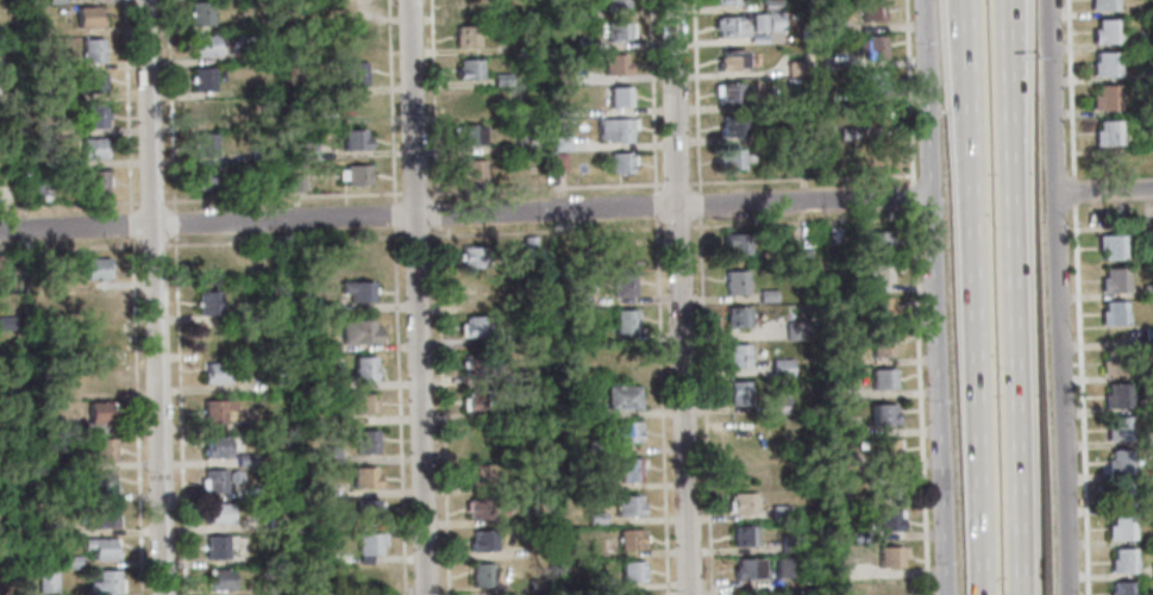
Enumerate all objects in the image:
building: (726, 1)
building: (616, 5)
building: (771, 5)
building: (1103, 5)
building: (466, 6)
building: (353, 8)
building: (871, 10)
building: (585, 12)
building: (201, 13)
building: (522, 14)
building: (90, 17)
building: (767, 21)
building: (731, 27)
building: (833, 27)
building: (619, 30)
road: (1004, 30)
road: (1007, 30)
building: (1104, 32)
building: (803, 33)
building: (466, 36)
building: (355, 39)
building: (585, 43)
building: (205, 45)
building: (872, 46)
building: (94, 49)
building: (732, 61)
building: (615, 64)
building: (1104, 65)
building: (796, 69)
building: (469, 70)
building: (355, 74)
building: (559, 76)
building: (203, 80)
building: (501, 80)
building: (93, 81)
building: (871, 81)
road: (1071, 87)
road: (696, 92)
road: (909, 92)
building: (728, 93)
road: (652, 96)
building: (620, 98)
building: (1104, 98)
road: (434, 100)
road: (390, 101)
building: (469, 102)
building: (795, 102)
road: (170, 106)
building: (208, 111)
building: (562, 111)
building: (96, 115)
building: (873, 117)
building: (244, 124)
building: (733, 126)
building: (616, 130)
building: (1107, 132)
building: (847, 133)
building: (790, 134)
building: (468, 136)
building: (355, 140)
building: (526, 143)
building: (562, 143)
building: (205, 145)
building: (94, 146)
building: (306, 151)
road: (1113, 151)
building: (261, 155)
building: (735, 159)
building: (559, 162)
building: (621, 163)
building: (803, 165)
building: (471, 171)
building: (357, 175)
road: (801, 177)
building: (208, 178)
building: (98, 181)
building: (296, 182)
road: (677, 183)
road: (695, 183)
road: (545, 188)
road: (1074, 190)
building: (37, 193)
road: (414, 193)
road: (1103, 193)
road: (282, 196)
road: (913, 198)
road: (157, 202)
road: (700, 205)
road: (656, 206)
road: (464, 214)
road: (394, 215)
road: (437, 215)
road: (174, 224)
road: (700, 226)
road: (1115, 226)
road: (678, 227)
road: (631, 228)
road: (131, 232)
road: (478, 234)
building: (833, 236)
road: (415, 237)
road: (377, 238)
building: (876, 240)
building: (1147, 240)
road: (207, 244)
building: (738, 244)
road: (153, 245)
building: (529, 245)
road: (111, 246)
building: (1110, 246)
building: (626, 250)
building: (800, 256)
building: (474, 257)
building: (96, 268)
building: (878, 274)
building: (1111, 281)
building: (737, 282)
building: (624, 284)
building: (475, 290)
building: (1147, 290)
building: (358, 292)
road: (418, 296)
building: (767, 296)
road: (932, 296)
road: (155, 297)
road: (679, 297)
road: (976, 297)
road: (1057, 297)
building: (568, 299)
building: (209, 302)
building: (100, 303)
road: (702, 303)
building: (327, 308)
building: (877, 308)
building: (1111, 313)
building: (738, 318)
building: (626, 321)
building: (6, 322)
building: (850, 324)
building: (475, 327)
road: (1013, 327)
building: (798, 331)
building: (361, 332)
building: (1146, 337)
building: (100, 338)
building: (881, 344)
building: (327, 346)
building: (739, 356)
building: (1111, 363)
building: (476, 364)
building: (364, 368)
building: (781, 368)
building: (277, 372)
building: (213, 374)
building: (879, 378)
building: (327, 382)
building: (739, 394)
building: (1114, 396)
building: (622, 397)
building: (476, 400)
road: (1079, 400)
road: (916, 402)
building: (364, 403)
building: (572, 407)
road: (662, 407)
building: (777, 407)
building: (215, 411)
road: (399, 412)
road: (441, 412)
building: (100, 413)
building: (879, 414)
road: (136, 415)
road: (178, 415)
building: (338, 420)
building: (240, 425)
building: (73, 428)
building: (744, 430)
building: (1116, 430)
building: (624, 432)
building: (480, 439)
building: (366, 443)
building: (595, 446)
building: (217, 447)
building: (883, 450)
building: (104, 451)
building: (328, 455)
building: (245, 461)
building: (45, 463)
building: (1116, 463)
building: (842, 465)
building: (629, 470)
building: (478, 475)
building: (234, 477)
building: (364, 477)
building: (213, 481)
building: (101, 482)
building: (280, 482)
building: (596, 483)
building: (507, 487)
building: (884, 487)
building: (1115, 496)
building: (853, 502)
building: (741, 503)
building: (628, 507)
building: (480, 509)
building: (368, 511)
building: (218, 513)
building: (779, 513)
building: (106, 515)
building: (296, 519)
building: (596, 519)
building: (883, 520)
building: (277, 521)
building: (49, 527)
building: (1117, 528)
building: (744, 535)
building: (854, 537)
building: (631, 540)
building: (482, 541)
building: (369, 543)
building: (788, 544)
building: (101, 547)
building: (217, 547)
building: (885, 557)
building: (1120, 560)
building: (12, 562)
building: (69, 563)
building: (784, 568)
building: (746, 569)
building: (1151, 570)
building: (632, 571)
building: (481, 575)
building: (370, 576)
building: (220, 580)
building: (48, 582)
building: (106, 583)
building: (537, 585)
building: (601, 585)
building: (1120, 588)
building: (276, 589)
building: (888, 589)

